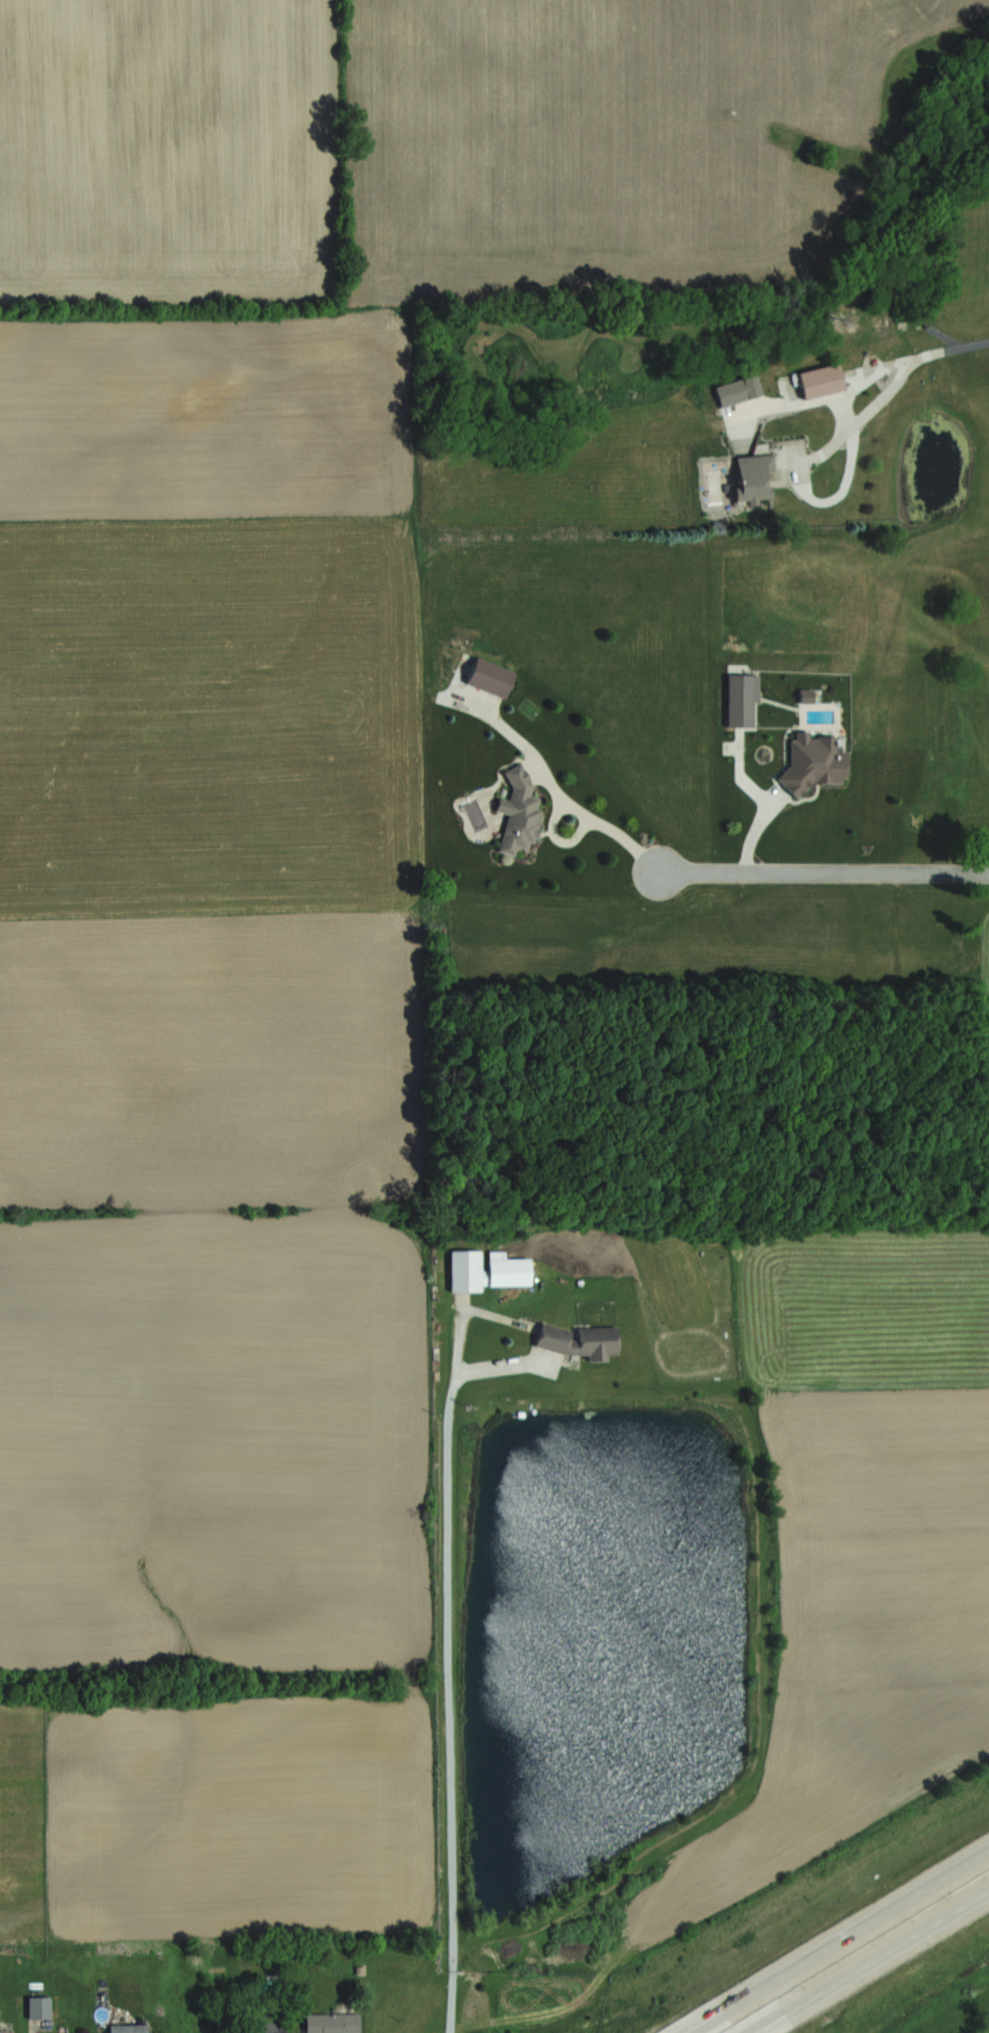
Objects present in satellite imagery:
road: (944, 346)
building: (819, 382)
road: (845, 412)
building: (751, 478)
building: (488, 676)
building: (814, 763)
building: (517, 813)
road: (596, 820)
road: (823, 871)
building: (485, 1270)
building: (578, 1340)
road: (447, 1665)
road: (838, 1941)
road: (871, 1962)
building: (39, 2006)
building: (269, 2022)
building: (331, 2022)
building: (127, 2028)

